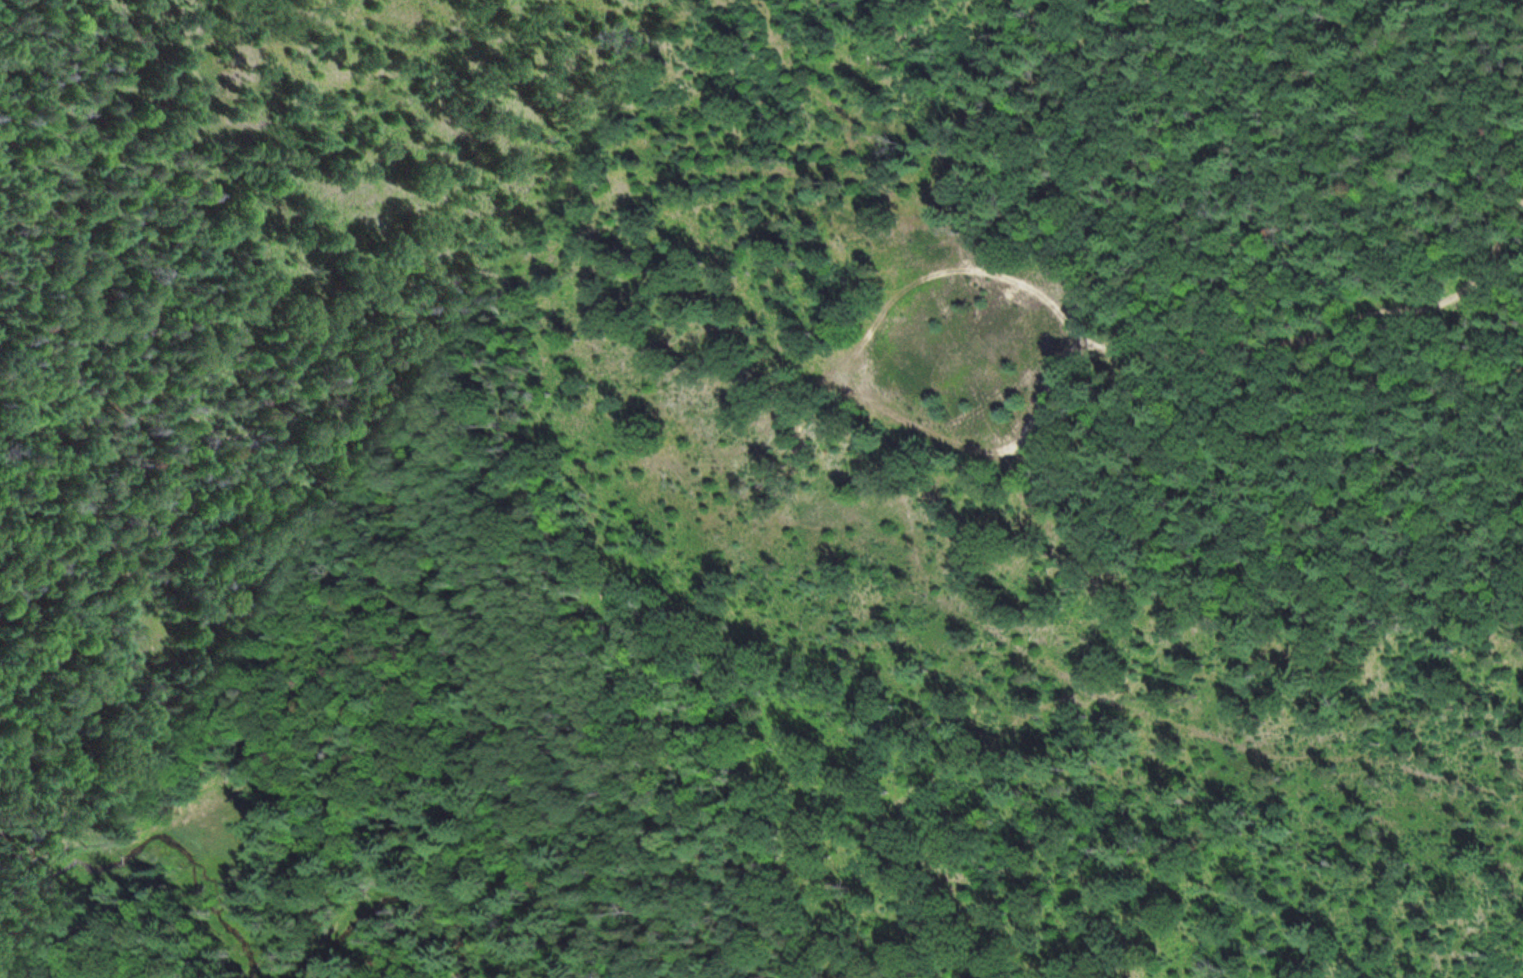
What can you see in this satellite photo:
road: (891, 37)
road: (1134, 197)
road: (953, 315)
road: (1337, 327)
road: (508, 364)
road: (331, 794)
road: (49, 920)

